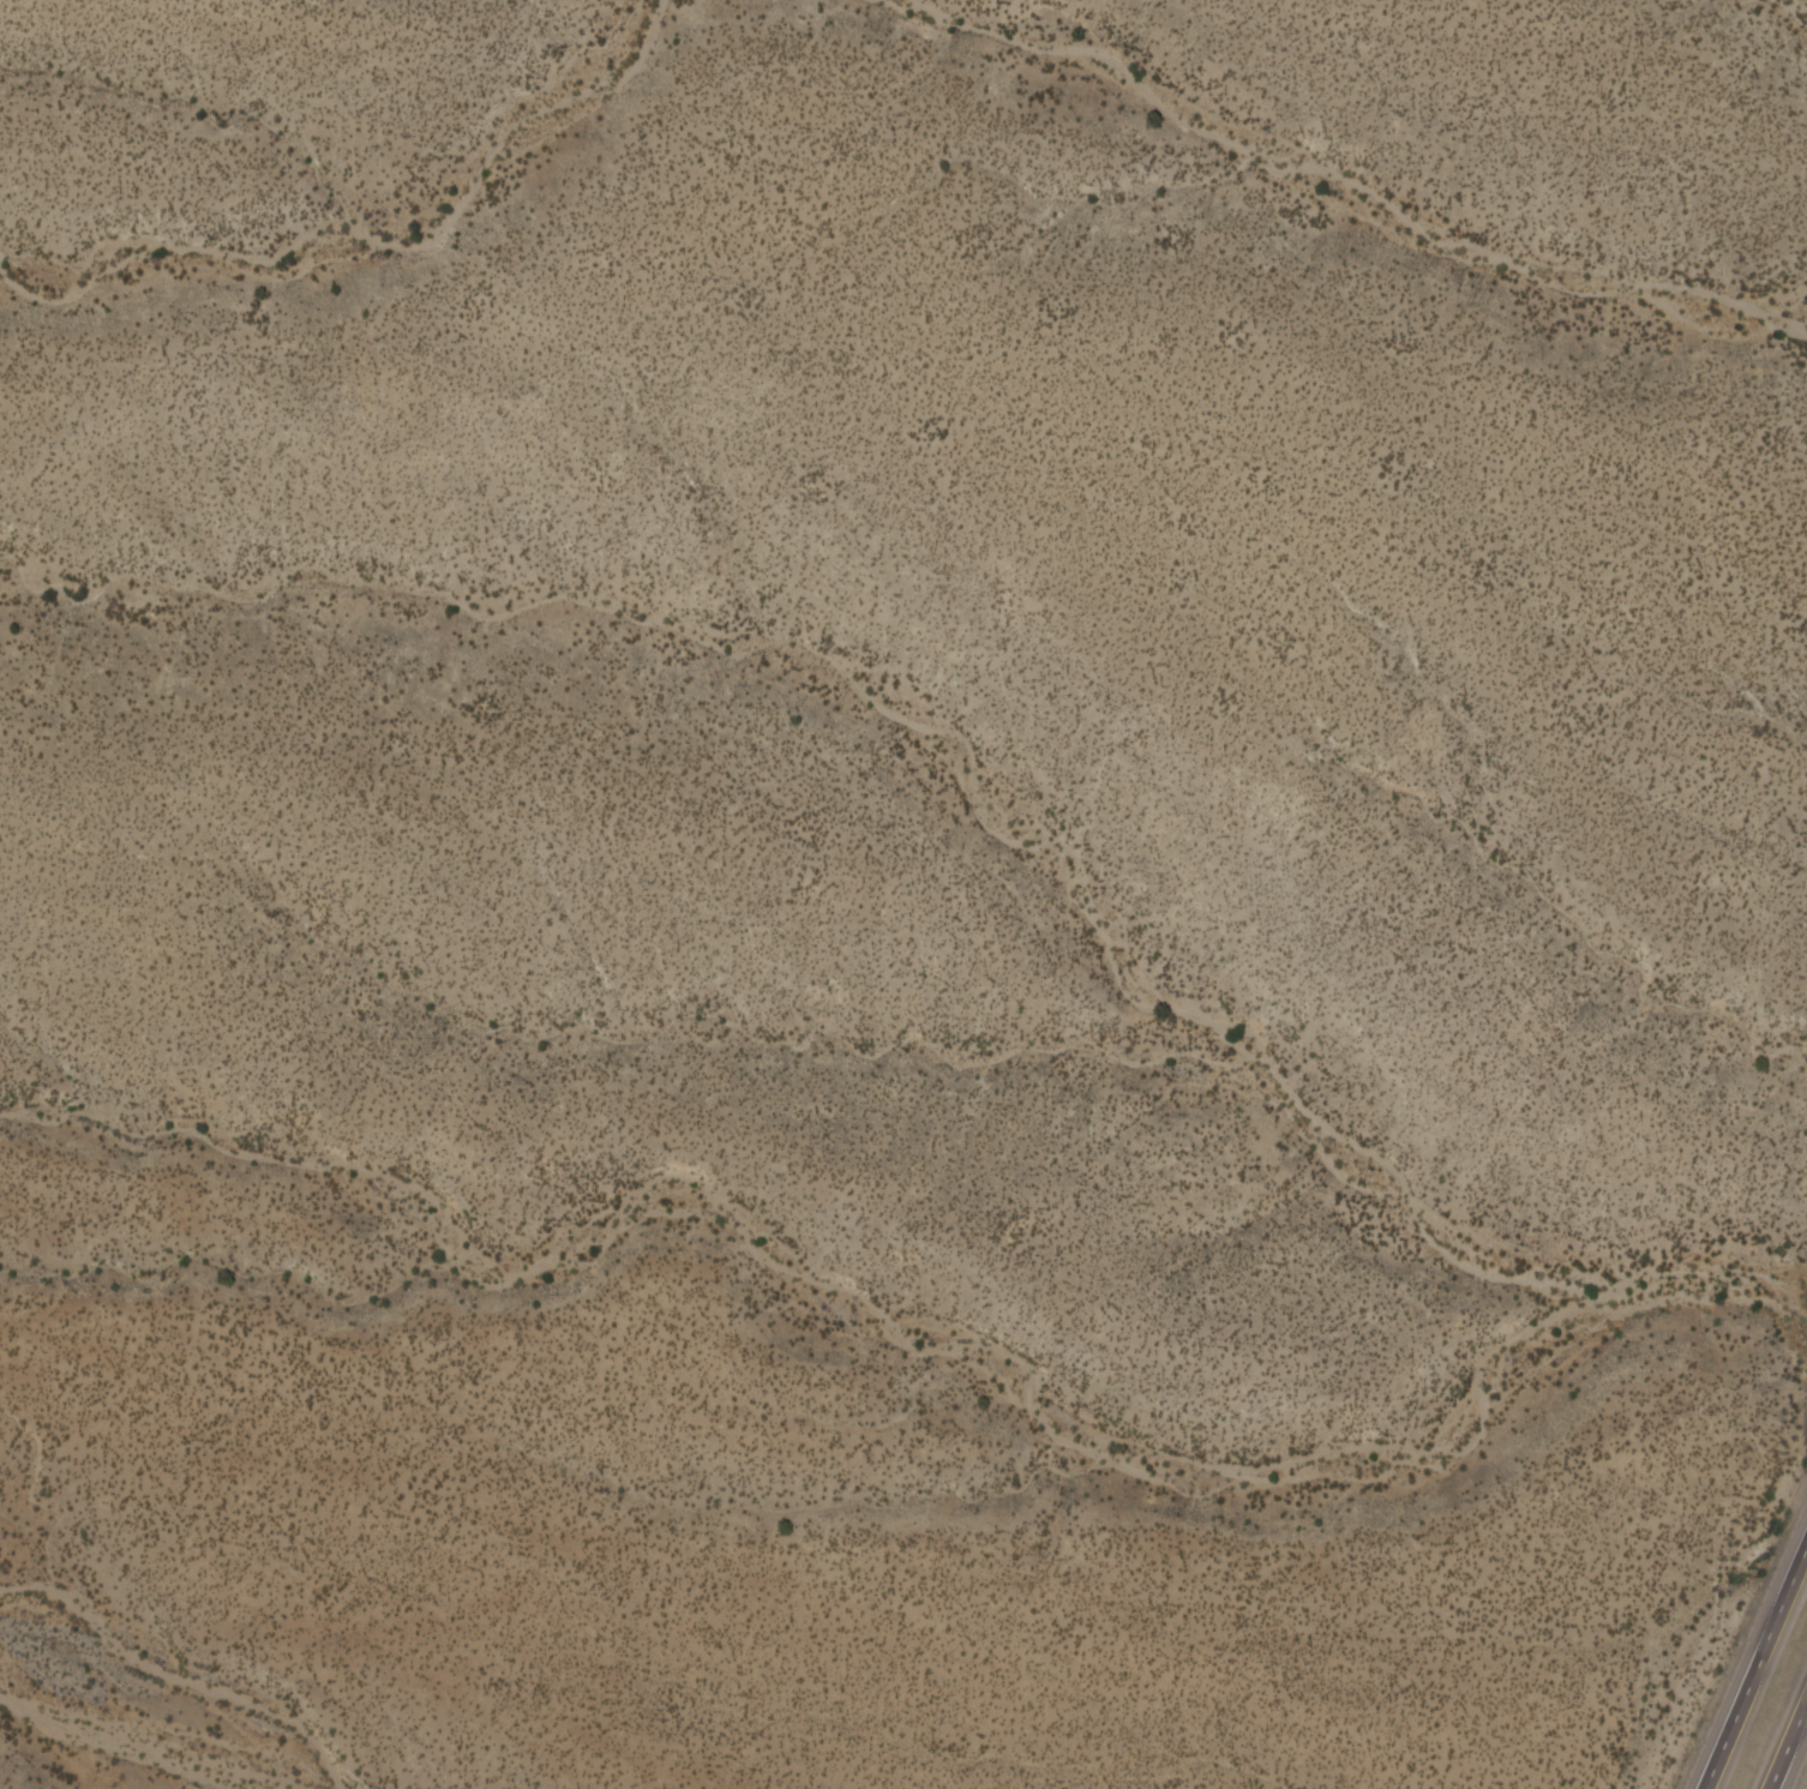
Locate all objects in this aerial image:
road: (1754, 1665)
road: (1787, 1742)

